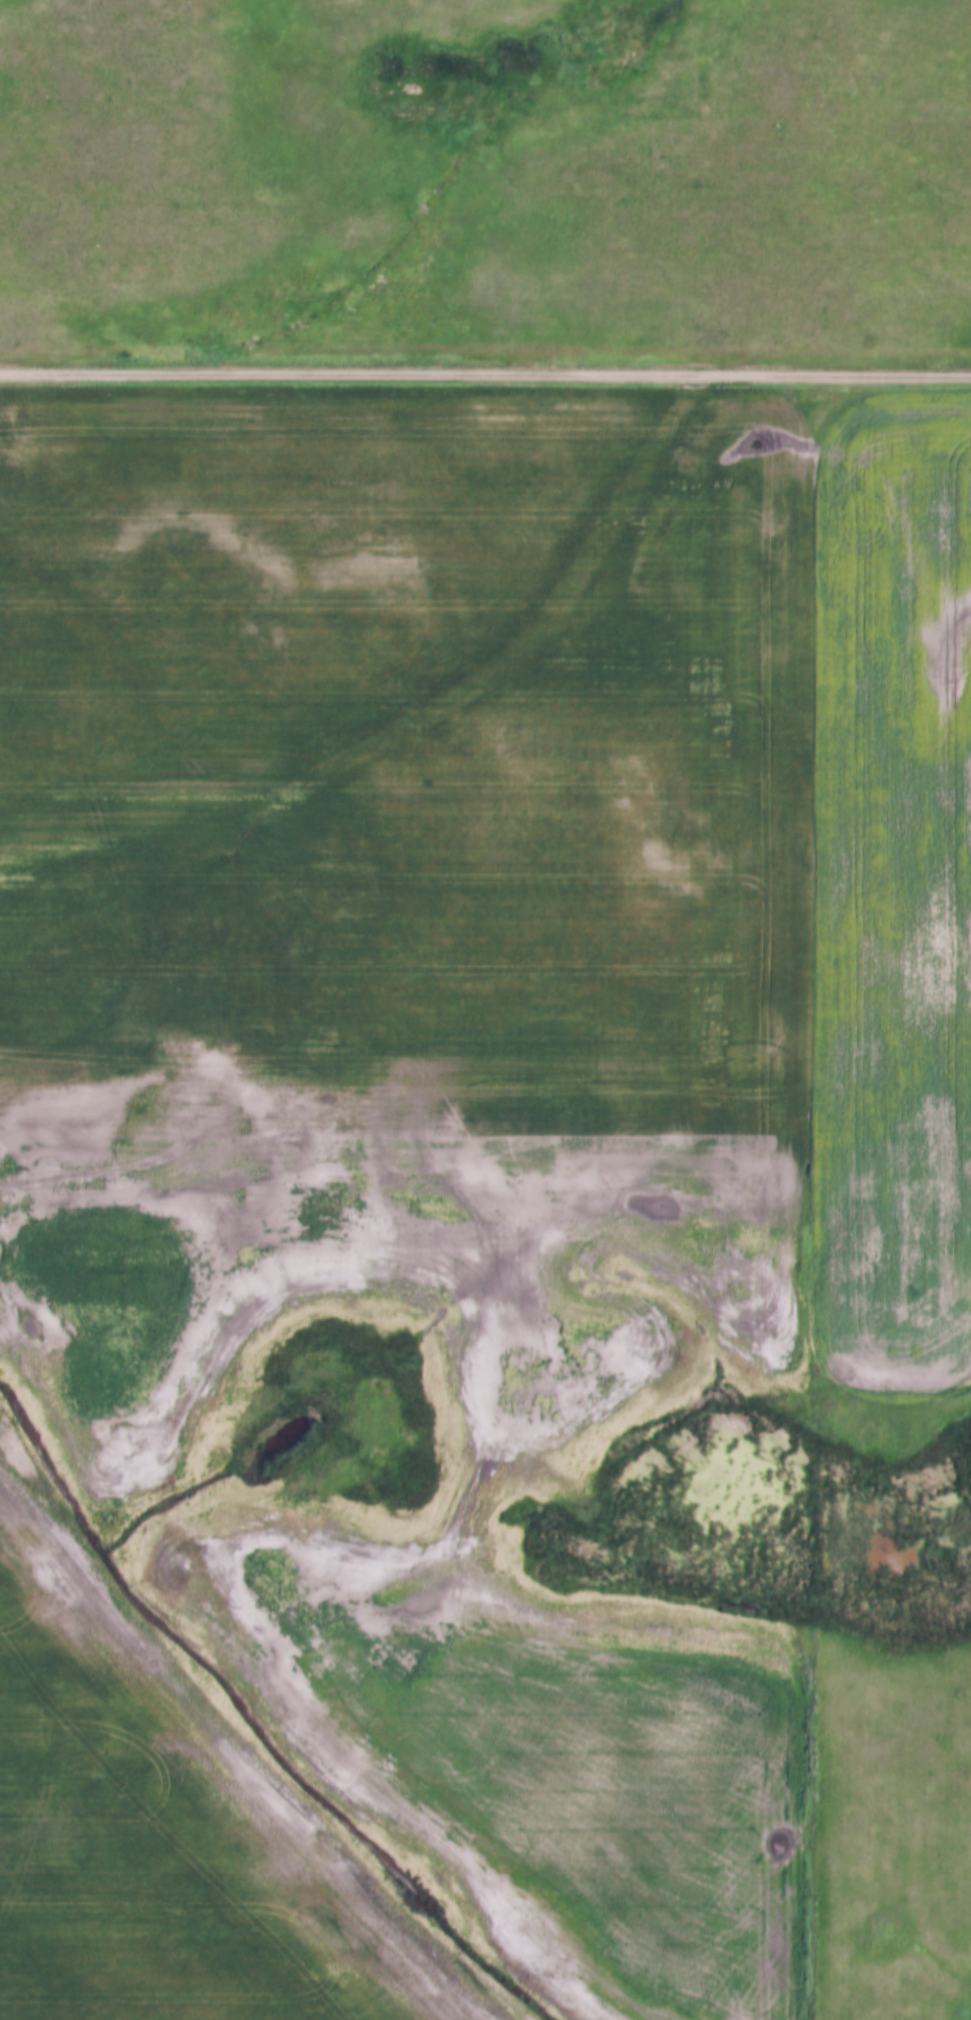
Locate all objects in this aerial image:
road: (485, 378)
building: (301, 942)

